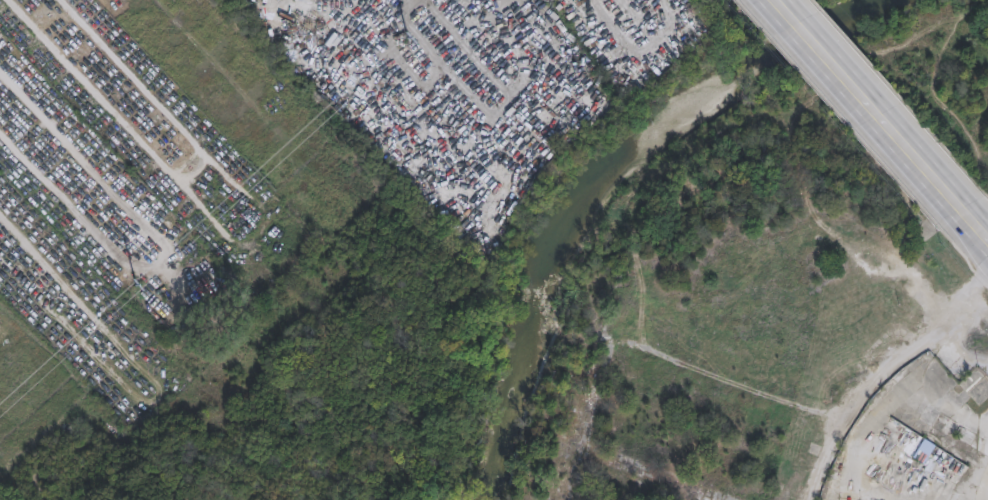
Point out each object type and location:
power tower: (408, 40)
road: (836, 77)
road: (187, 180)
river: (605, 188)
road: (947, 201)
road: (134, 222)
road: (56, 278)
power tower: (137, 284)
road: (872, 380)

